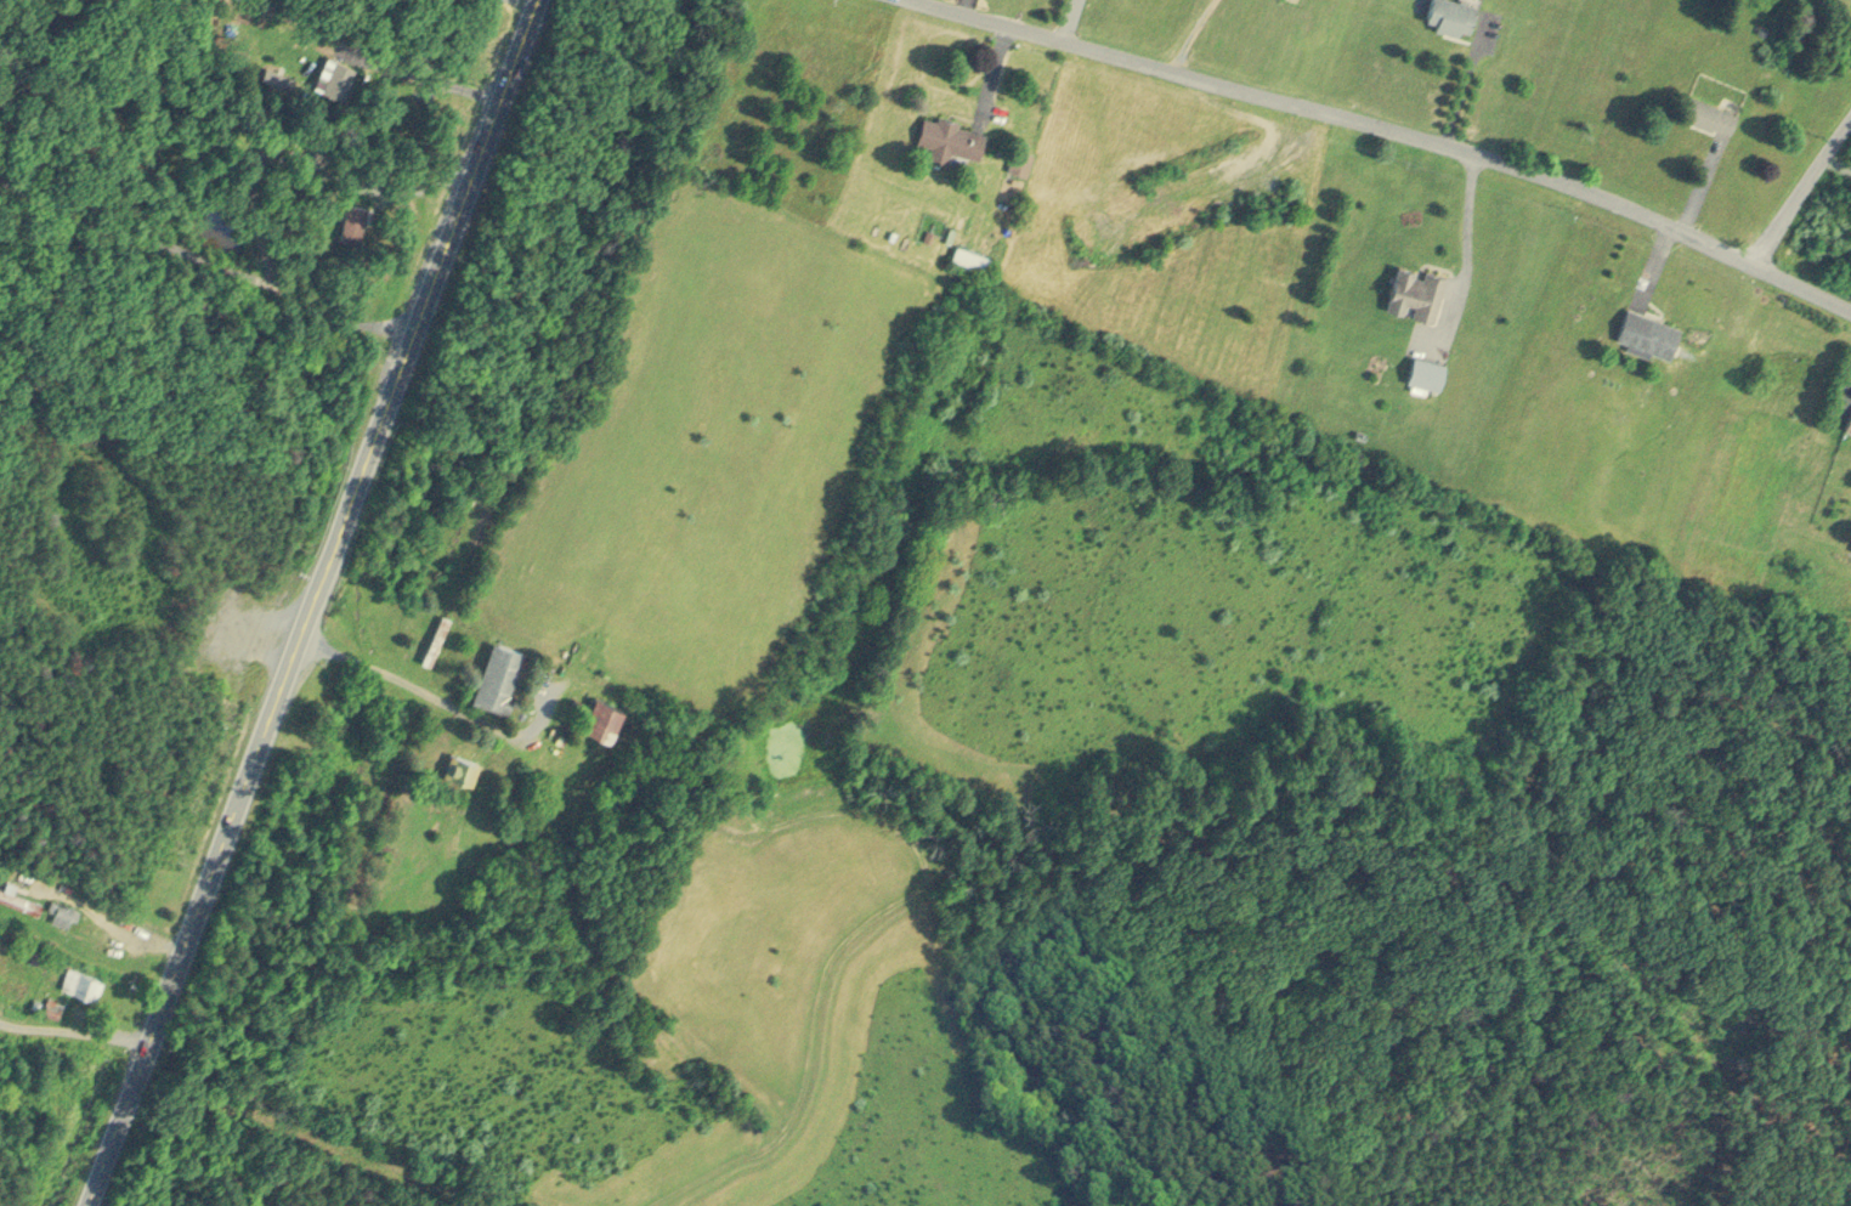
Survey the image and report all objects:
road: (964, 4)
building: (1454, 12)
road: (1071, 17)
road: (996, 66)
building: (335, 72)
road: (431, 81)
road: (1462, 87)
building: (1708, 108)
road: (1398, 130)
building: (951, 131)
building: (1021, 155)
road: (1801, 182)
road: (1697, 186)
road: (381, 217)
road: (1466, 242)
building: (973, 253)
road: (1655, 256)
road: (200, 264)
building: (1417, 285)
building: (1651, 327)
building: (1427, 368)
road: (1849, 373)
building: (1849, 418)
road: (308, 602)
building: (437, 638)
building: (499, 672)
building: (605, 712)
building: (462, 764)
building: (63, 911)
building: (81, 979)
road: (70, 1036)

